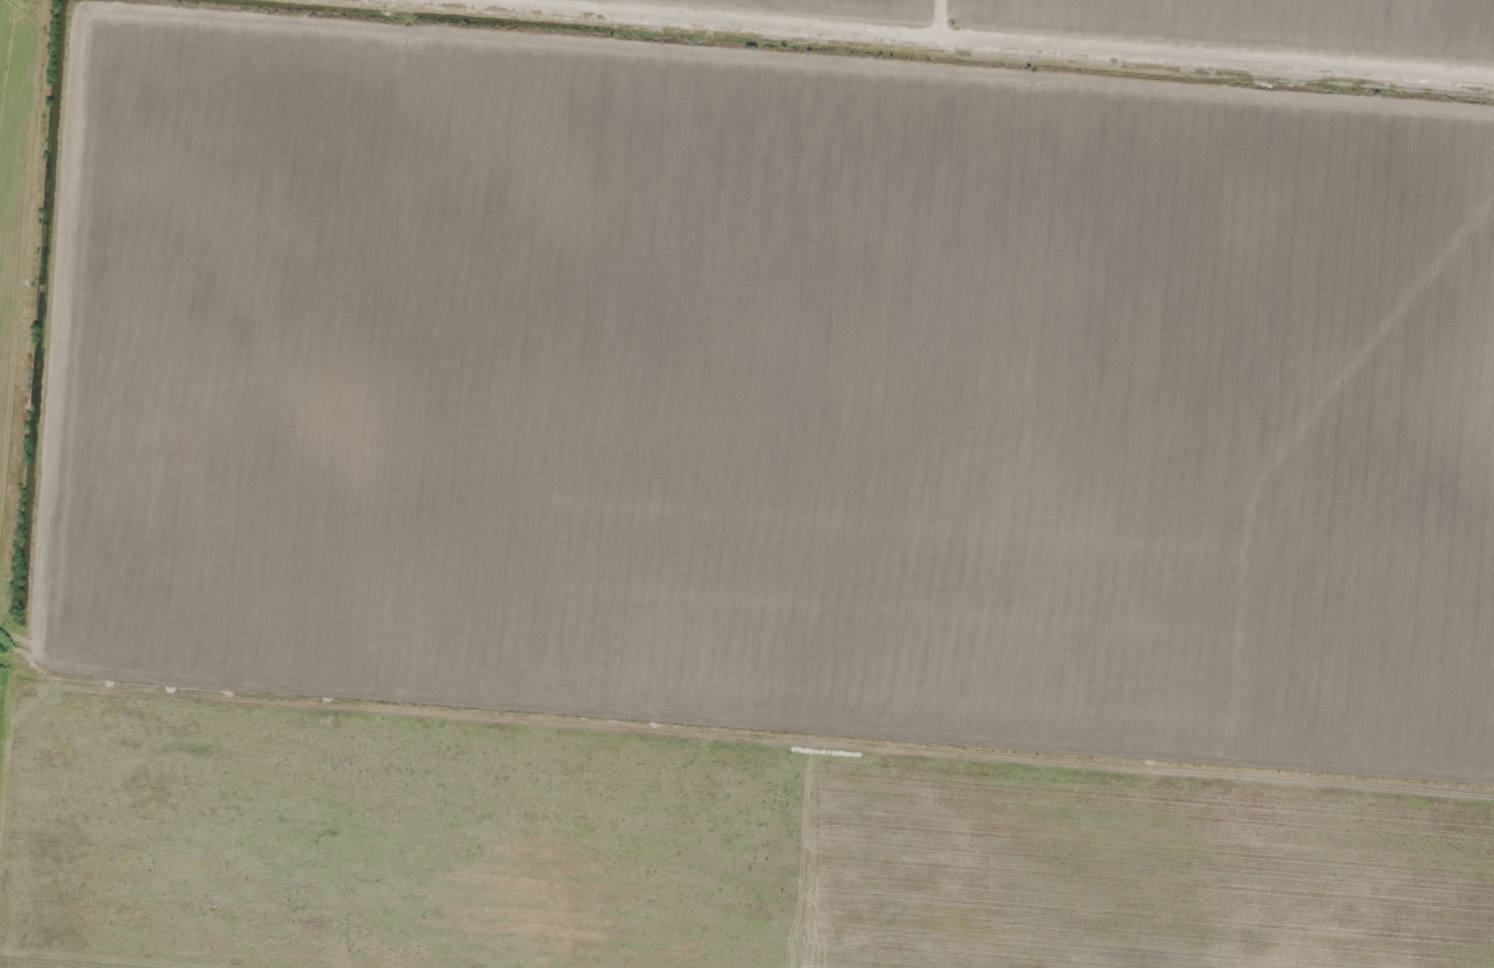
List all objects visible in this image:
road: (658, 730)

